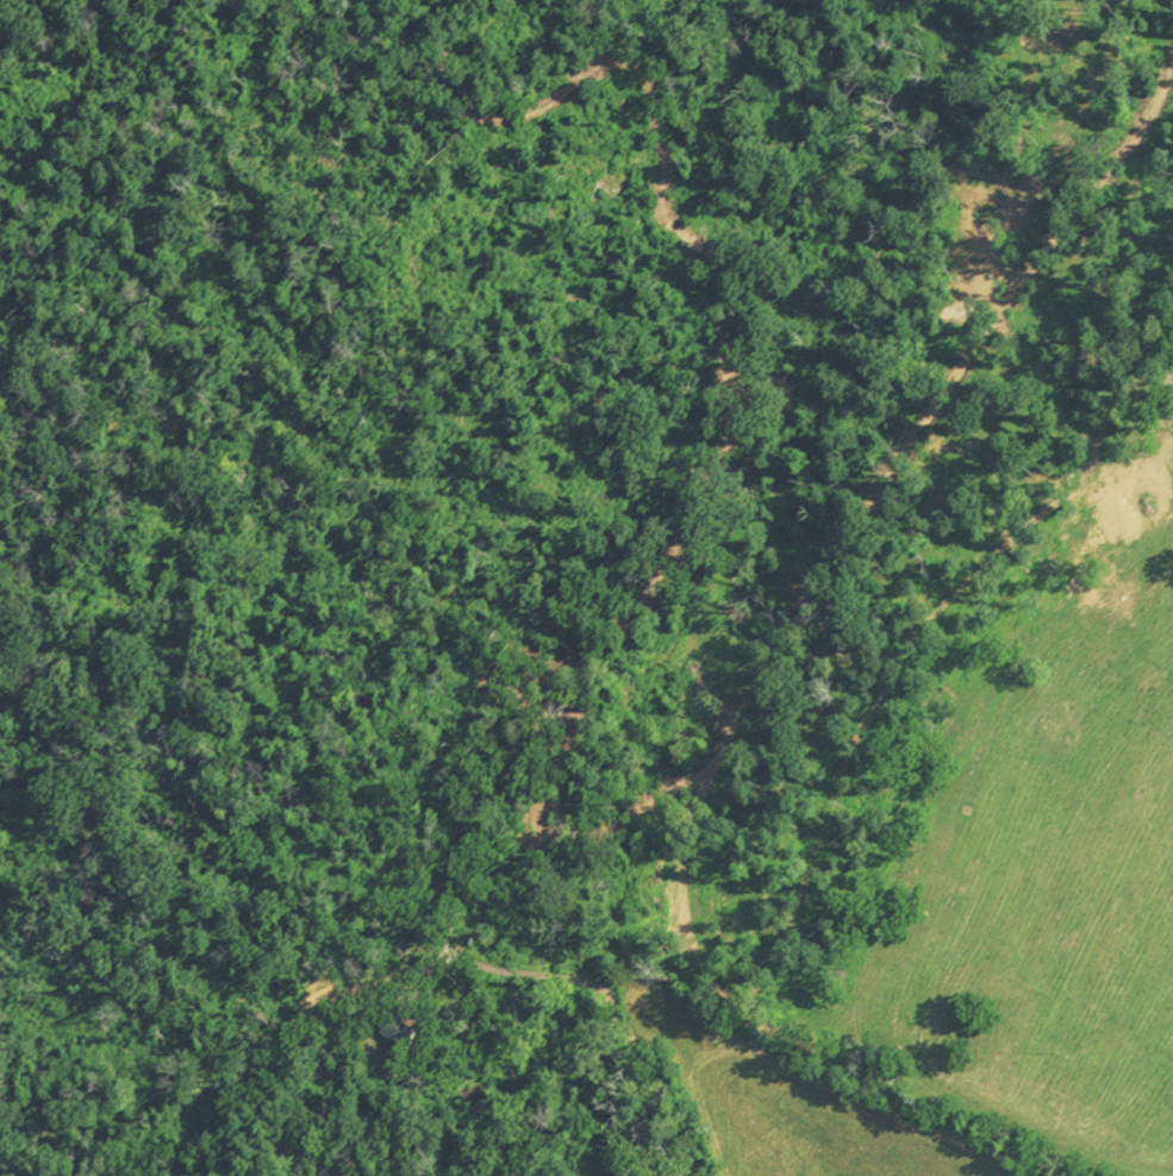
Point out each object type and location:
road: (604, 997)
building: (391, 1038)

